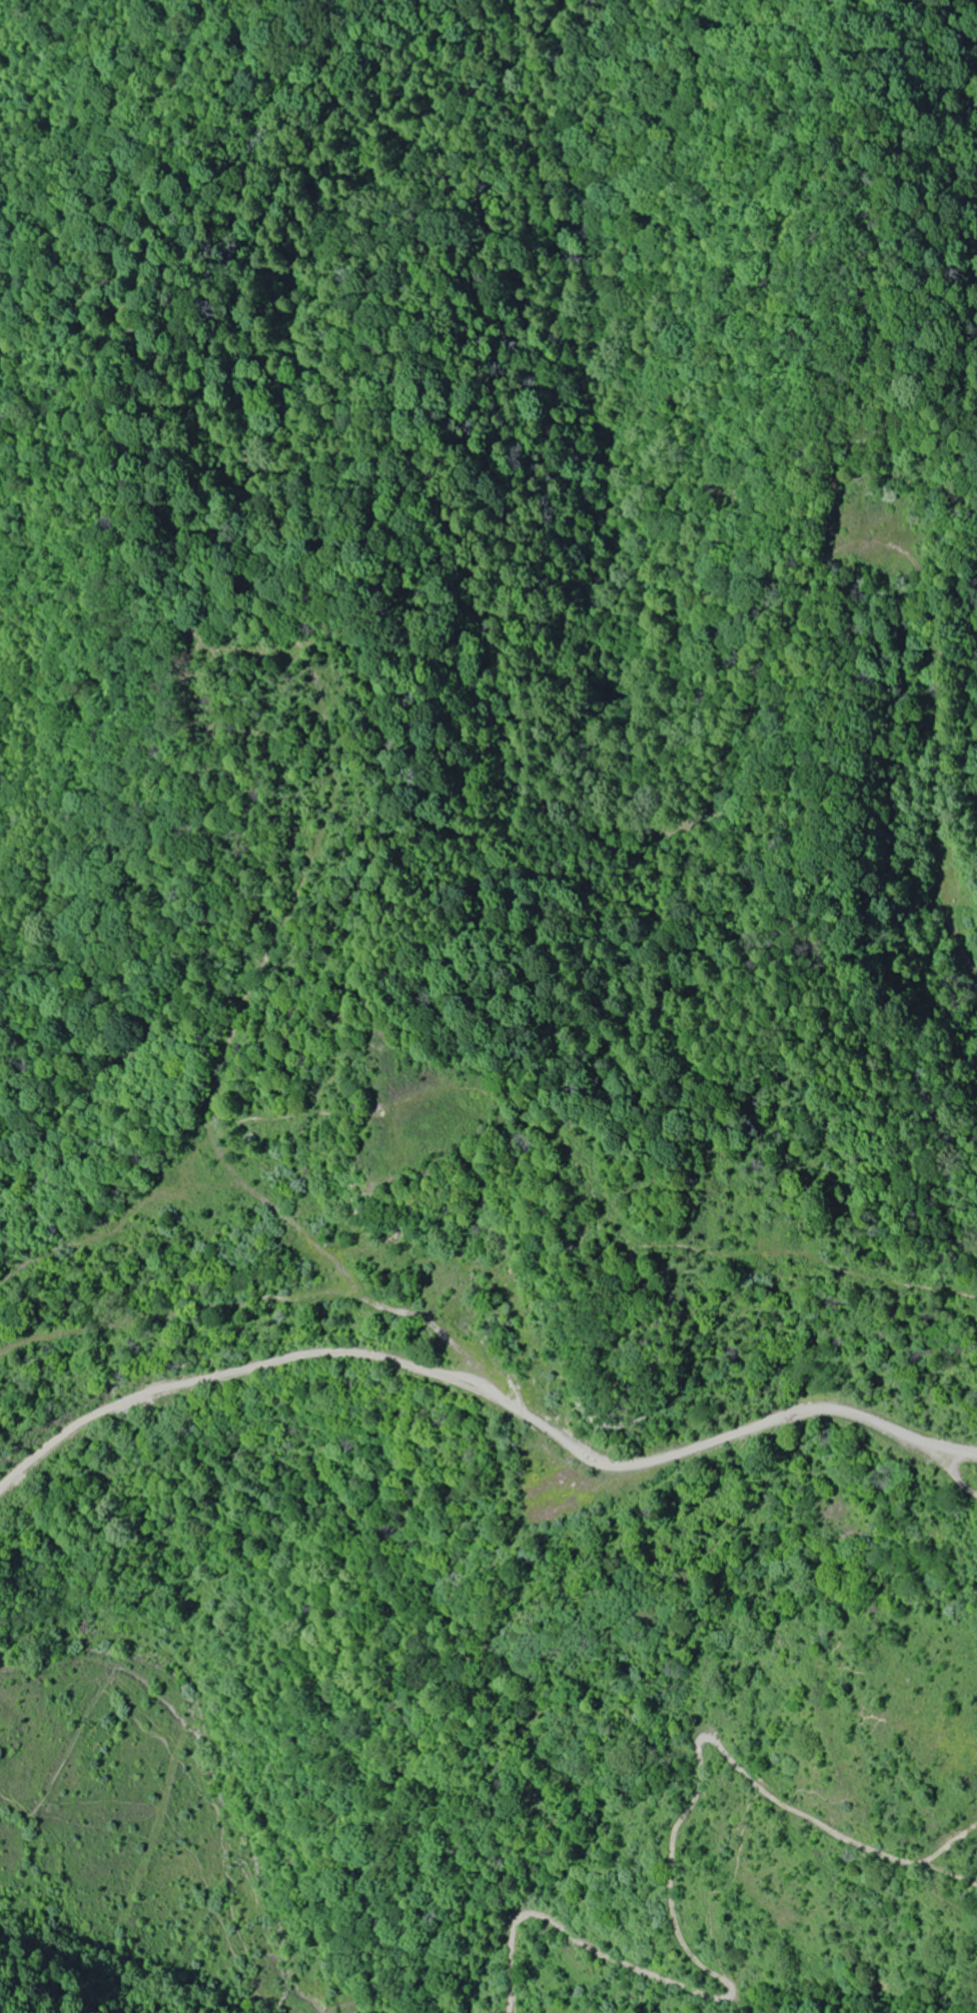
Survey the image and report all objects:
road: (187, 45)

